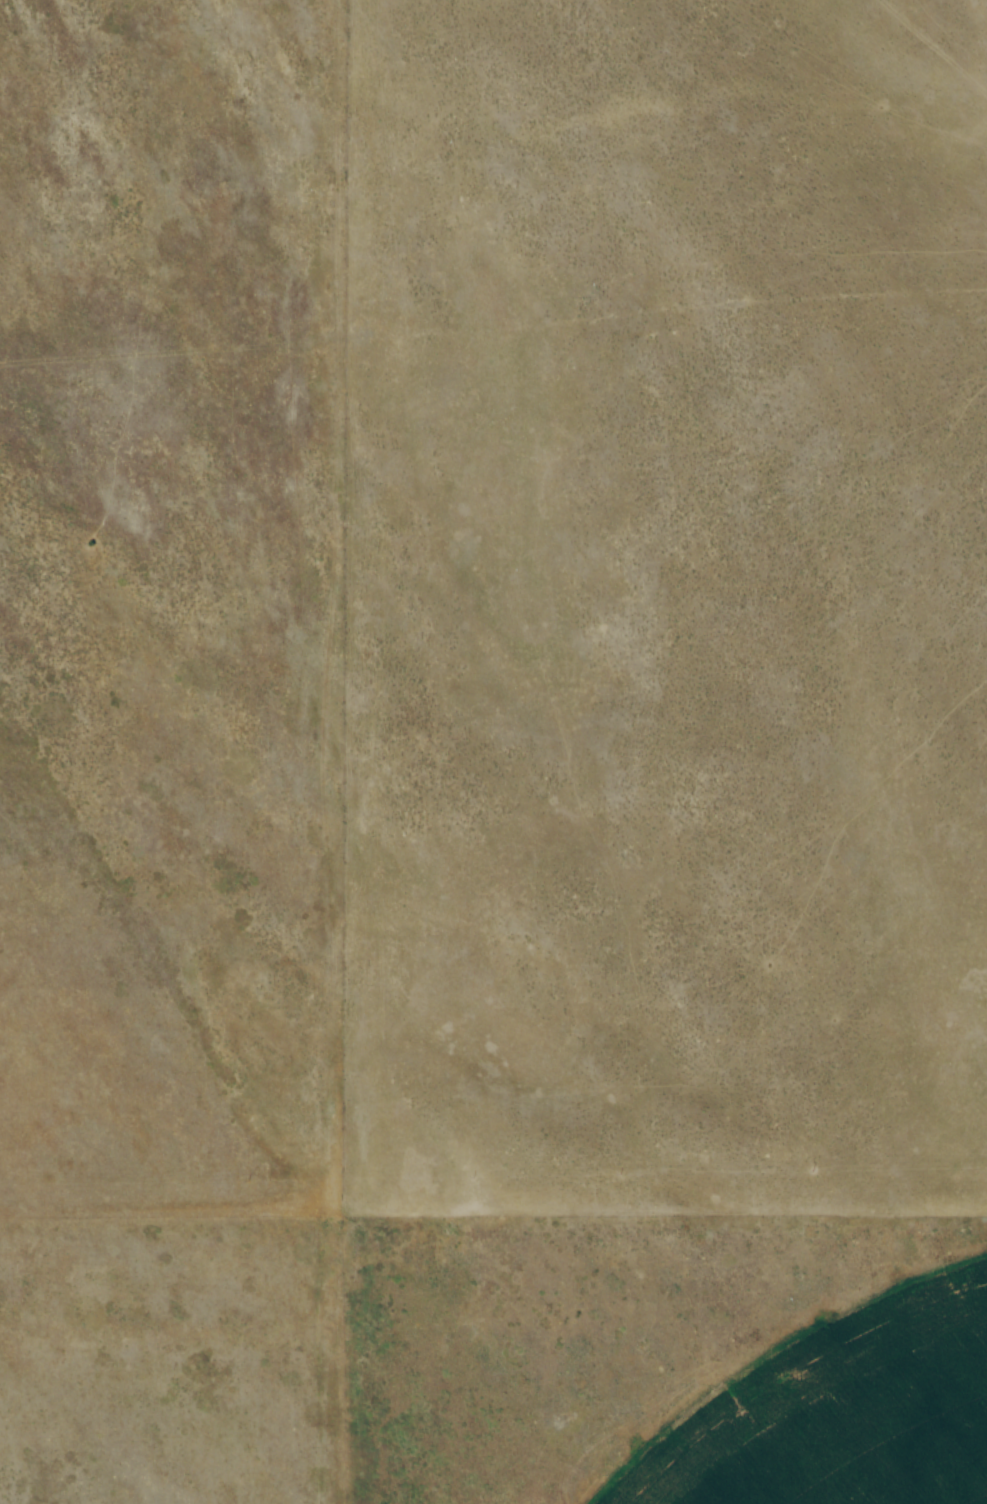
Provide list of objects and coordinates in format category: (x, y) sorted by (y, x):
crop: (840, 1413)

